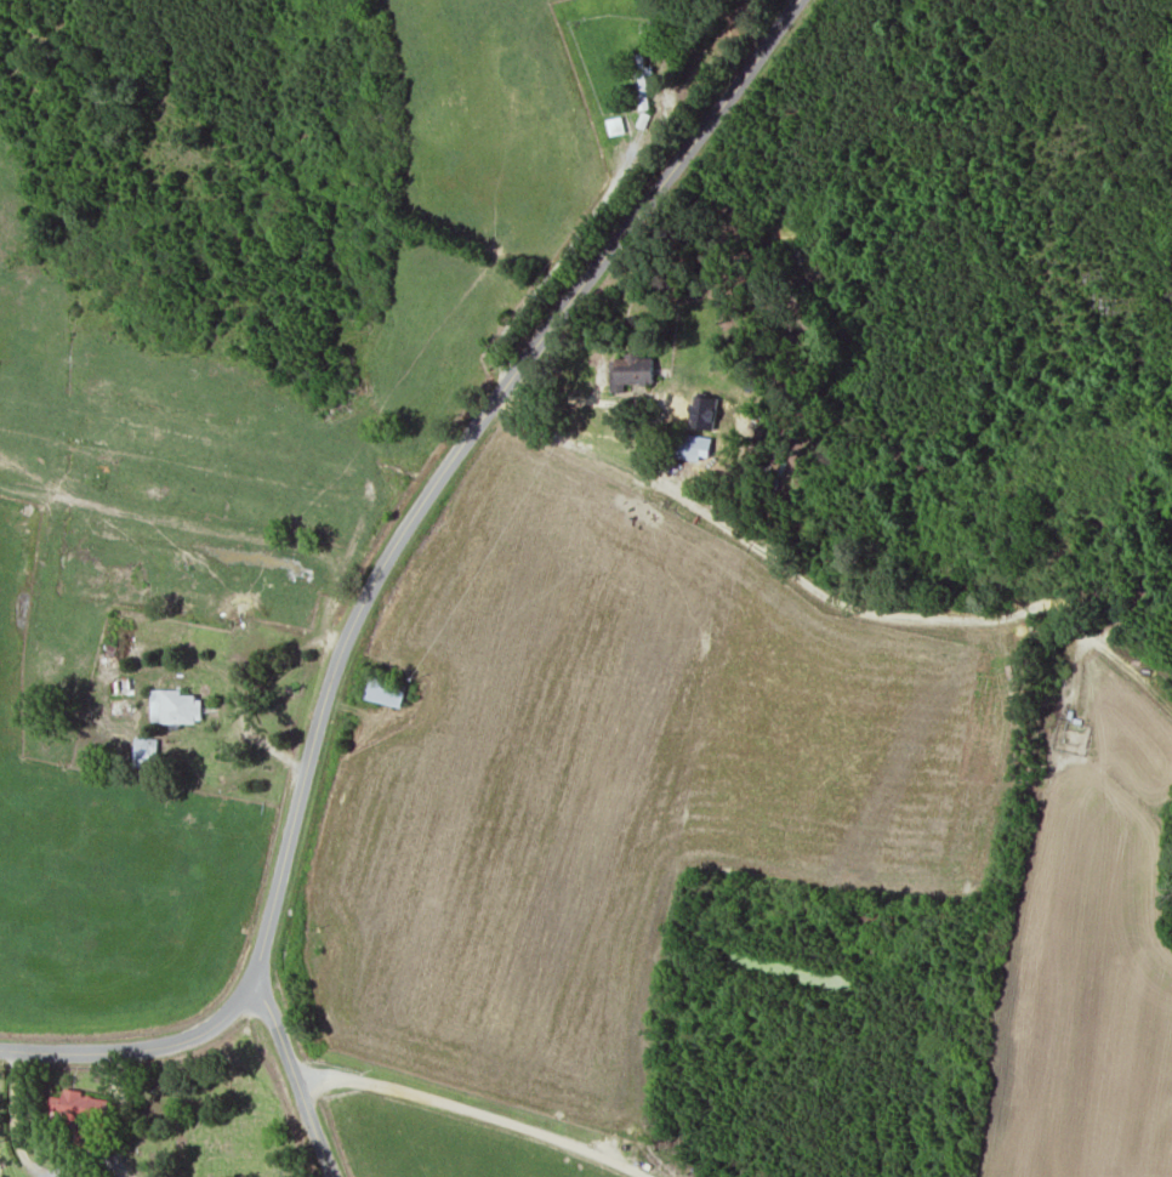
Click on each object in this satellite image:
road: (681, 19)
building: (642, 80)
building: (615, 124)
building: (636, 369)
building: (704, 411)
building: (694, 445)
road: (377, 570)
building: (385, 692)
building: (175, 706)
building: (121, 707)
building: (146, 751)
road: (294, 1075)
building: (78, 1111)
building: (92, 1176)

